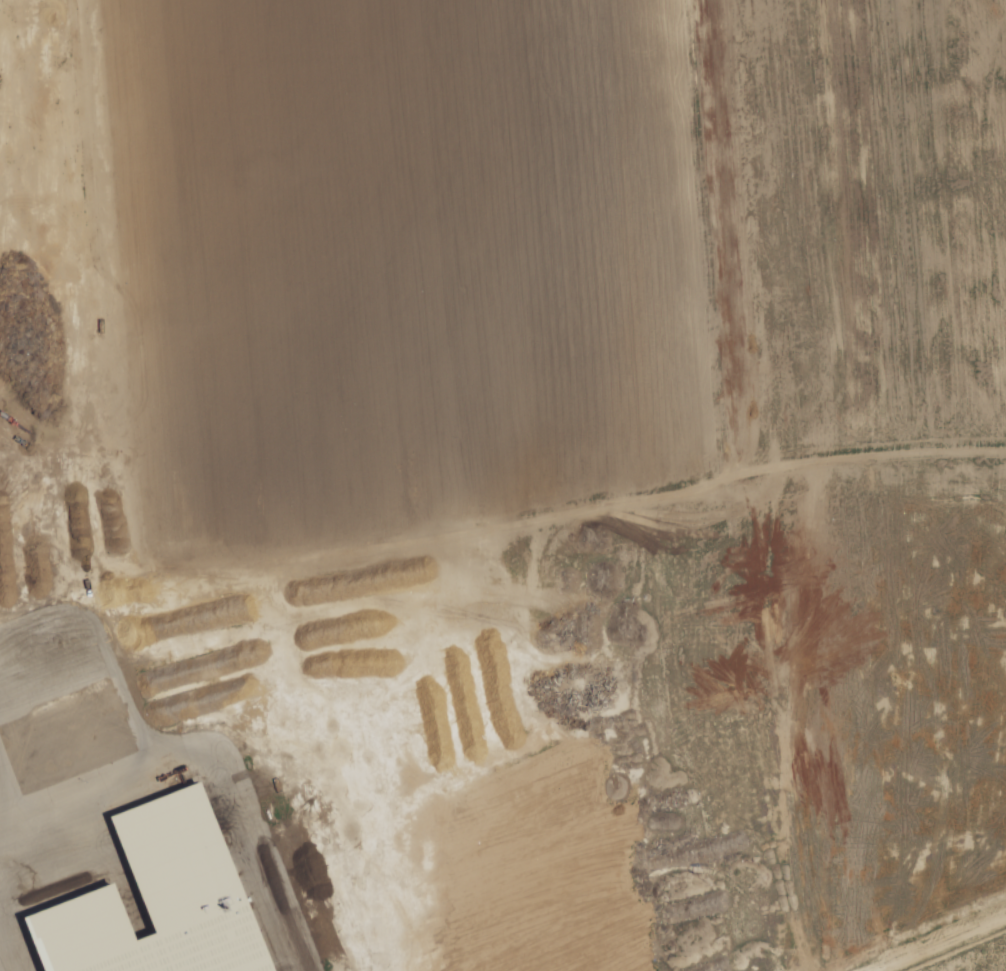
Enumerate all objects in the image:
landfill: (559, 247)
building: (155, 897)

